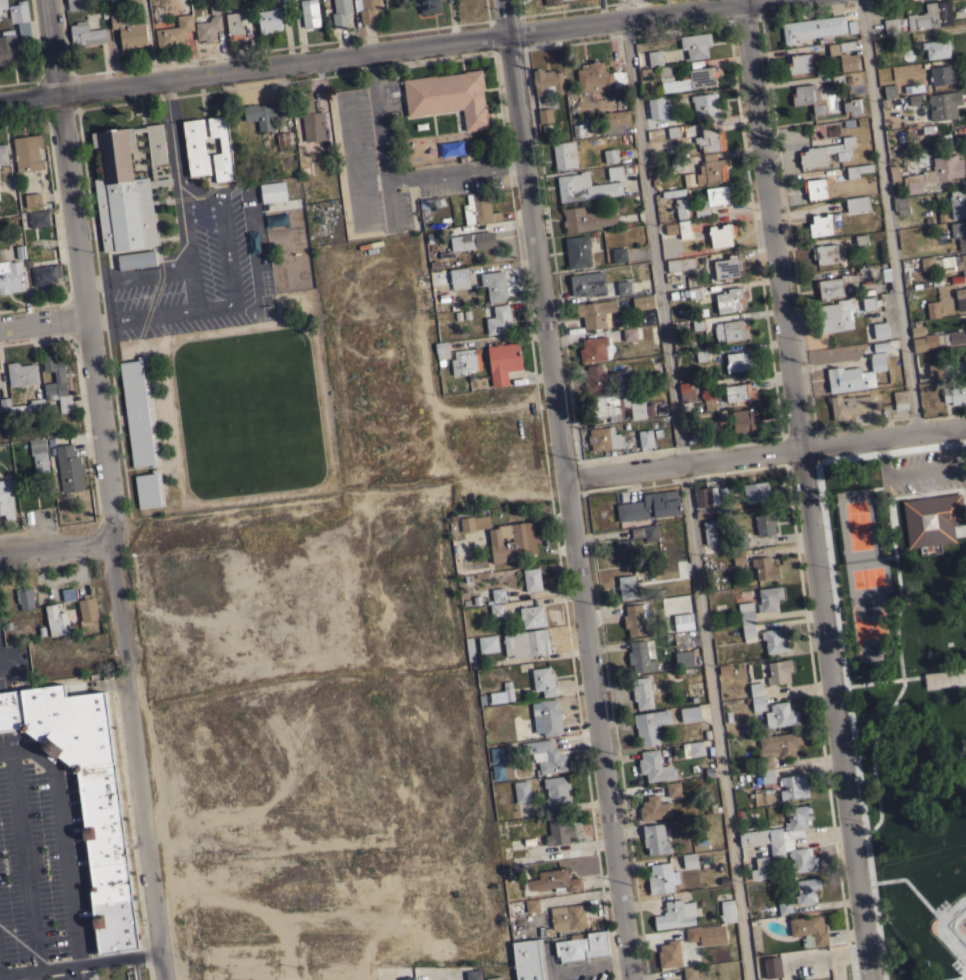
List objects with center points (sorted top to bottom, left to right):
building: (552, 2)
building: (3, 4)
building: (73, 5)
building: (427, 5)
building: (366, 9)
building: (341, 12)
building: (309, 13)
building: (0, 16)
building: (931, 16)
building: (269, 20)
building: (209, 25)
building: (234, 25)
building: (891, 25)
building: (814, 29)
building: (128, 30)
building: (174, 32)
building: (15, 34)
building: (85, 34)
building: (696, 45)
building: (936, 48)
road: (378, 51)
building: (844, 54)
building: (655, 58)
building: (799, 63)
building: (942, 75)
building: (598, 77)
building: (687, 78)
building: (838, 80)
building: (547, 82)
building: (913, 88)
building: (889, 90)
building: (449, 96)
building: (808, 98)
building: (915, 99)
building: (706, 105)
building: (944, 105)
building: (853, 106)
building: (663, 112)
building: (266, 114)
building: (544, 115)
building: (307, 121)
building: (615, 121)
building: (583, 130)
building: (673, 132)
building: (282, 137)
building: (710, 140)
building: (195, 147)
building: (221, 149)
building: (27, 152)
building: (825, 152)
road: (174, 154)
building: (3, 155)
road: (349, 155)
building: (564, 155)
building: (610, 155)
building: (676, 163)
building: (711, 169)
building: (857, 170)
building: (611, 172)
building: (894, 172)
building: (935, 173)
road: (391, 178)
building: (584, 187)
building: (126, 188)
building: (815, 188)
building: (273, 192)
building: (673, 192)
building: (31, 198)
building: (0, 199)
building: (713, 199)
road: (355, 200)
road: (391, 202)
building: (431, 202)
building: (857, 203)
building: (958, 203)
building: (900, 204)
building: (681, 208)
building: (479, 209)
road: (889, 217)
building: (38, 218)
building: (586, 218)
building: (821, 225)
building: (366, 227)
building: (671, 228)
building: (684, 228)
building: (959, 233)
building: (722, 234)
building: (481, 239)
building: (861, 240)
road: (187, 249)
building: (577, 252)
building: (825, 253)
building: (618, 254)
building: (136, 260)
building: (926, 262)
building: (681, 264)
building: (962, 264)
building: (726, 267)
road: (136, 273)
building: (45, 274)
parking lot: (190, 275)
building: (10, 276)
building: (437, 276)
building: (458, 278)
building: (840, 283)
building: (587, 284)
building: (494, 285)
building: (623, 287)
building: (693, 292)
building: (960, 298)
building: (730, 299)
road: (214, 302)
building: (642, 302)
building: (870, 303)
building: (933, 309)
building: (596, 313)
building: (835, 315)
building: (498, 319)
building: (965, 321)
road: (43, 324)
building: (698, 324)
building: (730, 330)
building: (880, 330)
building: (629, 333)
building: (954, 338)
building: (919, 344)
building: (596, 349)
building: (701, 355)
building: (458, 358)
building: (964, 359)
building: (738, 361)
building: (502, 362)
building: (935, 371)
building: (21, 373)
building: (855, 374)
building: (594, 379)
building: (56, 382)
building: (686, 391)
building: (740, 392)
building: (952, 393)
building: (708, 395)
building: (900, 399)
building: (4, 403)
building: (850, 405)
building: (28, 407)
building: (614, 407)
building: (138, 412)
building: (744, 420)
building: (51, 424)
building: (713, 430)
building: (604, 438)
building: (645, 438)
building: (39, 455)
road: (764, 455)
building: (69, 468)
road: (922, 470)
parking lot: (923, 472)
building: (149, 489)
road: (805, 489)
road: (105, 490)
road: (565, 490)
road: (686, 490)
building: (756, 491)
building: (724, 493)
building: (705, 496)
building: (6, 499)
building: (650, 506)
building: (928, 519)
building: (474, 523)
building: (764, 524)
park: (860, 525)
building: (645, 532)
building: (709, 532)
building: (511, 541)
building: (738, 542)
road: (55, 548)
building: (623, 551)
building: (757, 565)
building: (532, 579)
building: (627, 587)
building: (498, 595)
building: (25, 597)
building: (768, 598)
building: (87, 609)
building: (496, 610)
building: (532, 616)
building: (636, 619)
building: (56, 620)
building: (747, 620)
building: (683, 621)
park: (871, 628)
building: (774, 641)
building: (488, 643)
building: (526, 643)
building: (469, 648)
building: (640, 657)
building: (684, 658)
building: (778, 671)
building: (945, 677)
building: (544, 681)
building: (756, 689)
park: (908, 689)
building: (642, 692)
building: (497, 696)
building: (756, 702)
building: (690, 713)
building: (781, 715)
building: (546, 717)
building: (650, 725)
building: (781, 743)
building: (696, 748)
building: (545, 756)
building: (654, 766)
building: (766, 771)
building: (792, 786)
building: (556, 789)
building: (522, 791)
building: (84, 795)
building: (659, 803)
building: (559, 831)
road: (61, 836)
building: (655, 839)
building: (785, 839)
building: (517, 844)
road: (23, 860)
building: (690, 860)
parking lot: (41, 869)
building: (761, 869)
building: (661, 878)
building: (555, 881)
building: (807, 889)
building: (532, 905)
building: (784, 905)
building: (727, 911)
building: (676, 914)
building: (567, 917)
building: (809, 930)
building: (706, 935)
building: (582, 947)
park: (955, 952)
building: (669, 954)
building: (528, 959)
road: (78, 963)
road: (590, 965)
building: (772, 967)
road: (137, 968)
road: (71, 972)
building: (690, 972)
road: (37, 974)
building: (406, 974)
building: (473, 974)
road: (553, 975)
road: (4, 976)
building: (494, 978)
building: (680, 979)

